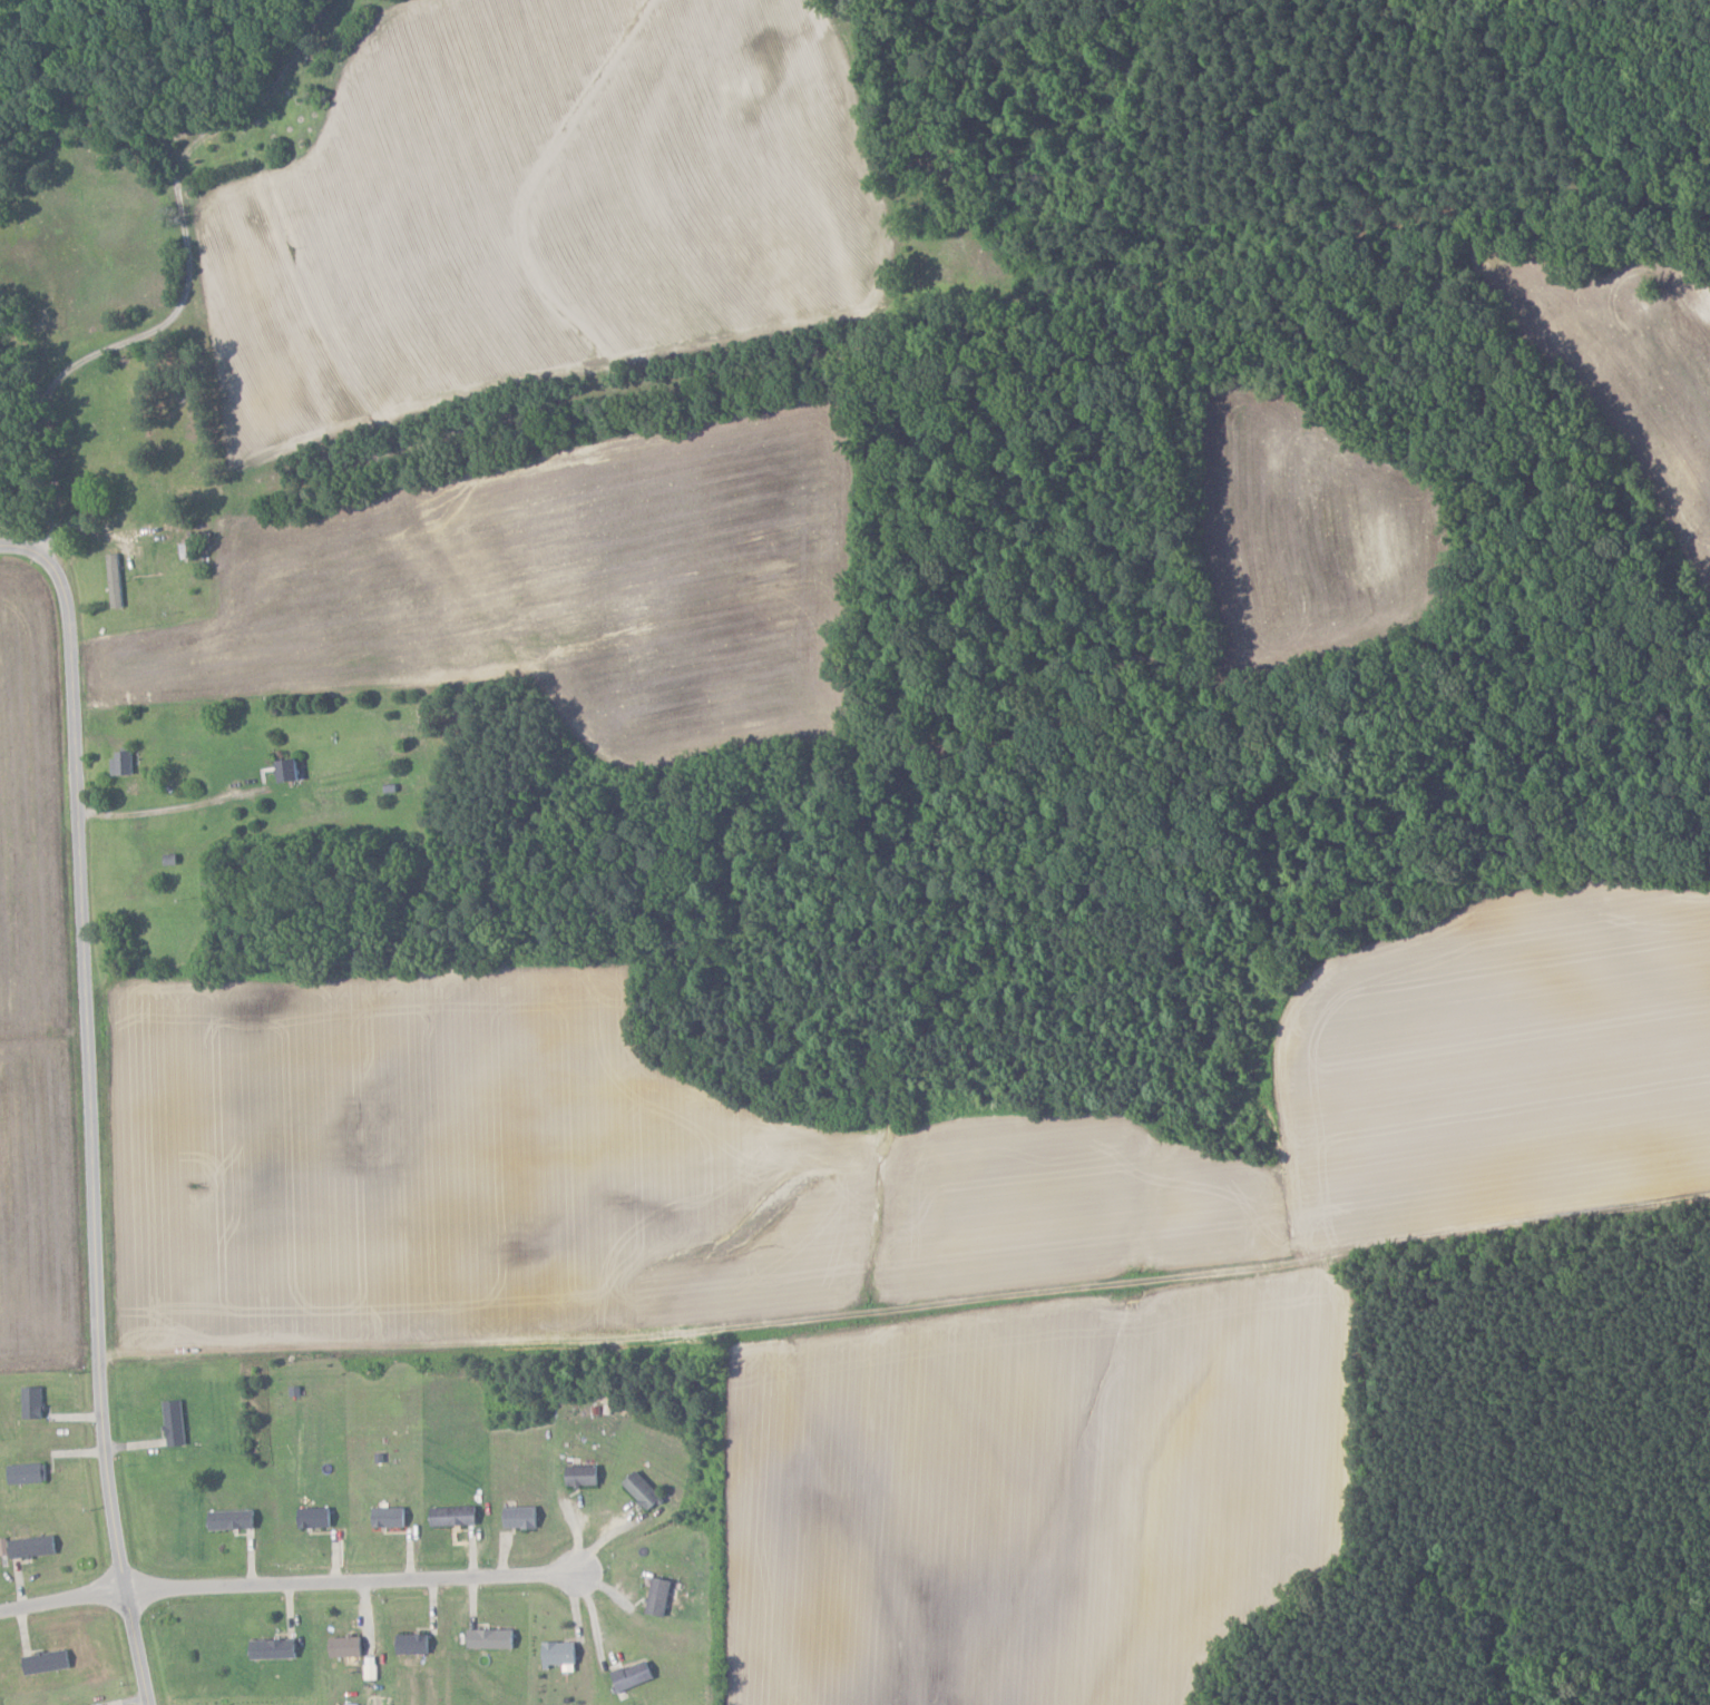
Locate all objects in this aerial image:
road: (187, 287)
building: (116, 580)
building: (125, 762)
building: (293, 770)
road: (169, 809)
road: (87, 1107)
building: (35, 1402)
building: (177, 1423)
building: (29, 1473)
building: (584, 1476)
building: (645, 1490)
building: (457, 1516)
building: (392, 1517)
building: (522, 1517)
building: (316, 1518)
building: (235, 1520)
building: (36, 1546)
road: (351, 1581)
building: (661, 1597)
road: (62, 1600)
road: (595, 1623)
building: (495, 1638)
building: (414, 1644)
building: (348, 1647)
building: (276, 1649)
building: (561, 1654)
building: (50, 1662)
building: (636, 1675)

